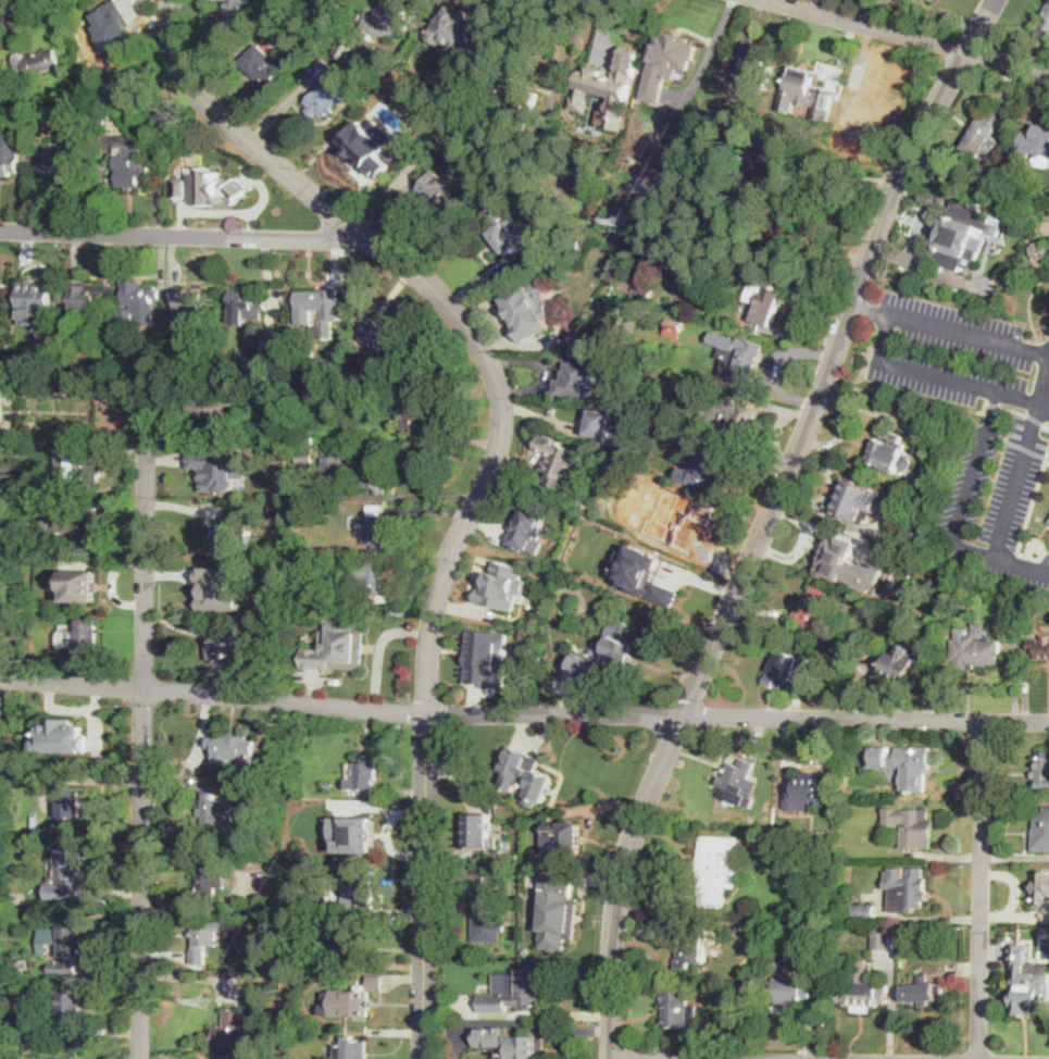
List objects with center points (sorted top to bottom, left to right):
building: (238, 0)
building: (929, 0)
building: (936, 0)
building: (319, 5)
building: (386, 18)
building: (1046, 18)
building: (101, 34)
road: (902, 35)
building: (454, 45)
building: (348, 49)
road: (710, 49)
building: (36, 63)
building: (665, 63)
building: (265, 64)
building: (323, 71)
building: (754, 74)
building: (398, 75)
building: (611, 83)
building: (806, 92)
building: (519, 97)
building: (326, 99)
building: (152, 112)
building: (864, 112)
building: (416, 115)
building: (101, 120)
building: (448, 120)
building: (376, 133)
building: (985, 136)
building: (1040, 140)
building: (437, 141)
building: (64, 160)
building: (9, 163)
building: (133, 171)
building: (771, 179)
building: (211, 180)
building: (436, 186)
building: (494, 211)
power tower: (622, 219)
road: (179, 234)
building: (964, 234)
building: (763, 235)
building: (510, 236)
road: (820, 237)
building: (574, 240)
building: (626, 286)
building: (642, 289)
building: (36, 294)
building: (90, 298)
building: (764, 300)
building: (188, 303)
building: (246, 306)
building: (137, 307)
building: (316, 307)
building: (528, 309)
building: (674, 324)
building: (224, 329)
building: (374, 332)
road: (969, 335)
building: (740, 353)
building: (265, 363)
building: (159, 364)
building: (168, 371)
road: (913, 372)
building: (82, 374)
building: (577, 379)
road: (1039, 384)
building: (638, 387)
building: (2, 406)
building: (741, 410)
building: (215, 414)
building: (83, 416)
building: (723, 416)
building: (415, 418)
building: (602, 424)
building: (313, 440)
building: (887, 452)
building: (304, 456)
building: (711, 461)
building: (560, 462)
building: (334, 463)
road: (491, 465)
building: (82, 471)
building: (227, 471)
building: (375, 473)
road: (1015, 481)
road: (424, 497)
building: (585, 500)
building: (865, 501)
building: (38, 503)
building: (299, 504)
road: (429, 508)
building: (275, 509)
road: (959, 514)
building: (73, 520)
road: (767, 520)
building: (679, 521)
building: (1048, 521)
building: (530, 523)
building: (374, 527)
building: (233, 535)
building: (30, 541)
building: (61, 543)
building: (841, 558)
building: (899, 564)
building: (644, 573)
building: (372, 580)
building: (86, 582)
building: (503, 585)
building: (218, 587)
building: (812, 607)
building: (865, 610)
building: (86, 634)
building: (225, 643)
building: (338, 646)
building: (1042, 647)
road: (379, 648)
building: (620, 648)
building: (974, 649)
building: (487, 657)
building: (901, 662)
building: (585, 664)
building: (786, 669)
road: (339, 705)
road: (864, 718)
road: (142, 734)
building: (74, 742)
building: (232, 747)
building: (902, 764)
building: (1042, 770)
building: (364, 774)
building: (534, 781)
building: (736, 782)
building: (328, 787)
building: (806, 793)
building: (71, 803)
building: (215, 811)
building: (909, 823)
building: (1041, 830)
building: (480, 832)
building: (360, 834)
building: (564, 838)
building: (719, 869)
building: (70, 870)
building: (209, 881)
road: (979, 889)
building: (1044, 889)
building: (912, 890)
building: (363, 894)
building: (321, 900)
building: (863, 909)
building: (557, 911)
building: (488, 914)
building: (742, 926)
building: (757, 926)
building: (902, 930)
building: (48, 937)
building: (882, 938)
building: (203, 939)
building: (690, 946)
building: (70, 947)
building: (351, 950)
building: (22, 963)
building: (513, 989)
building: (790, 989)
building: (924, 991)
building: (862, 993)
building: (1028, 995)
building: (362, 997)
power tower: (200, 1001)
building: (70, 1007)
building: (678, 1009)
building: (233, 1029)
building: (519, 1039)
building: (351, 1049)
building: (70, 1058)
building: (200, 1058)

